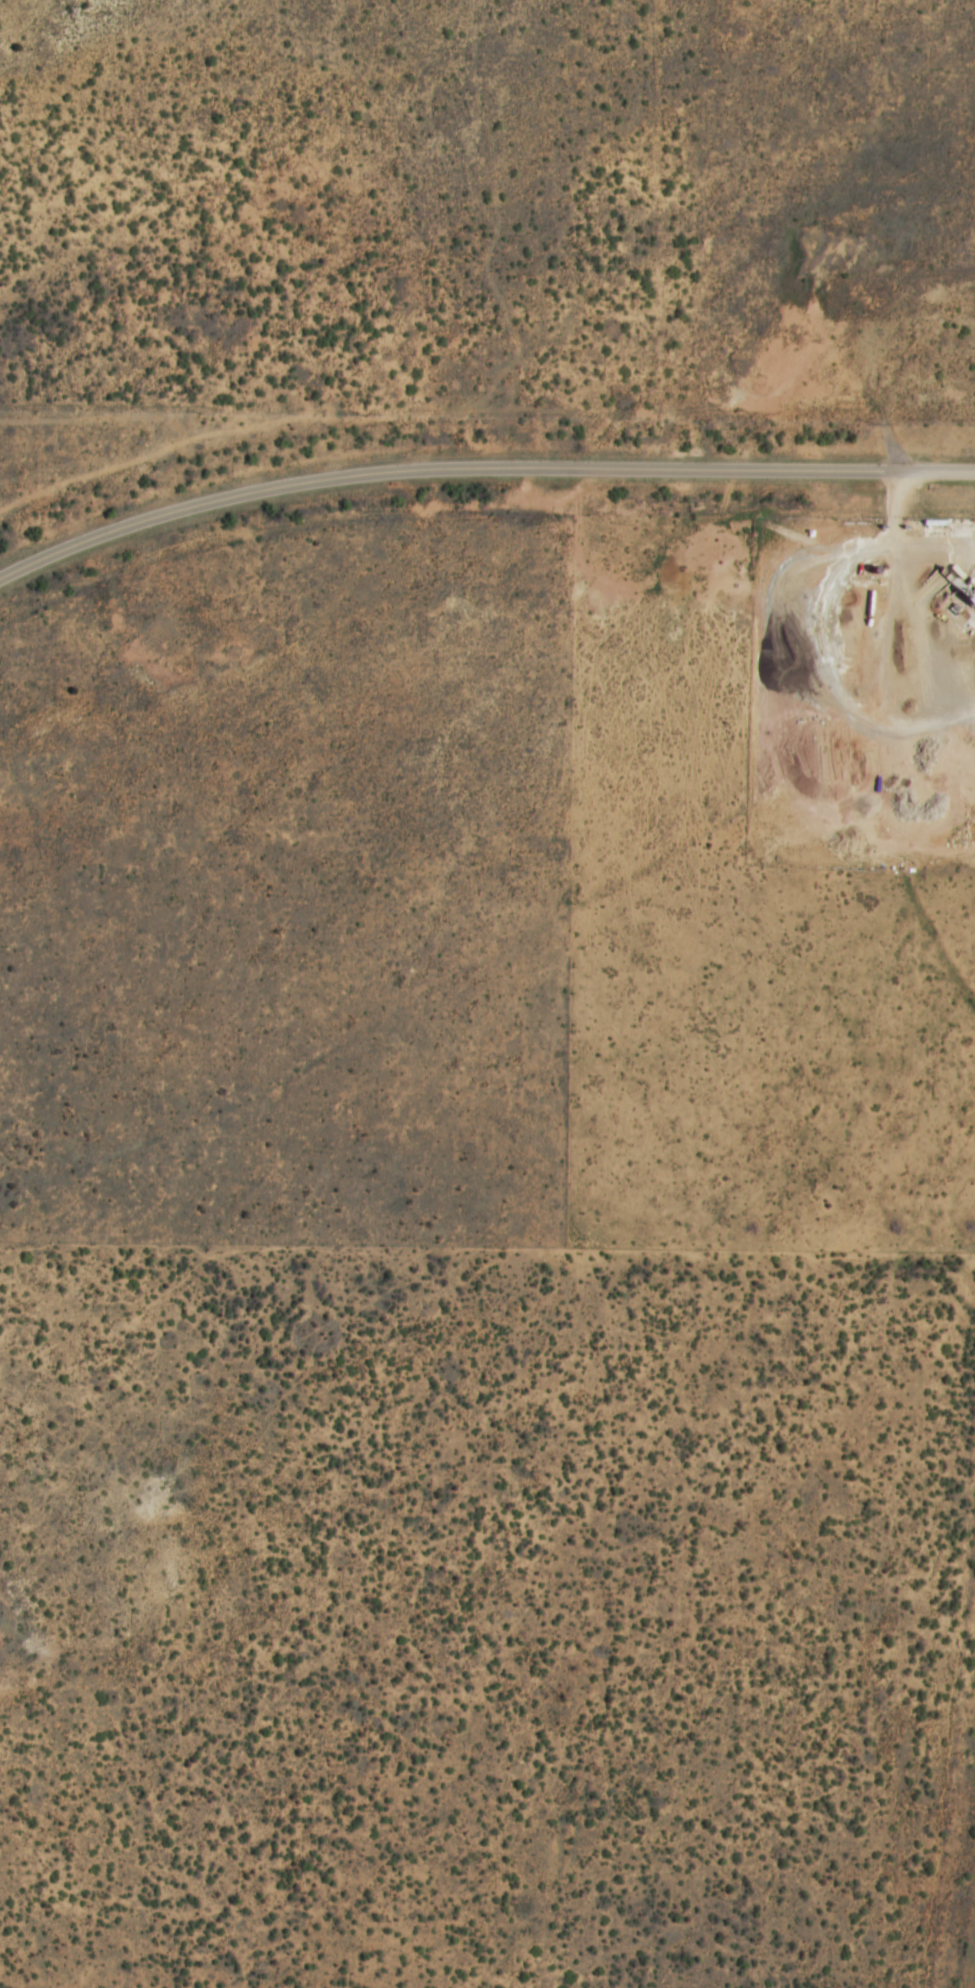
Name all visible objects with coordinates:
road: (479, 470)
building: (875, 809)

